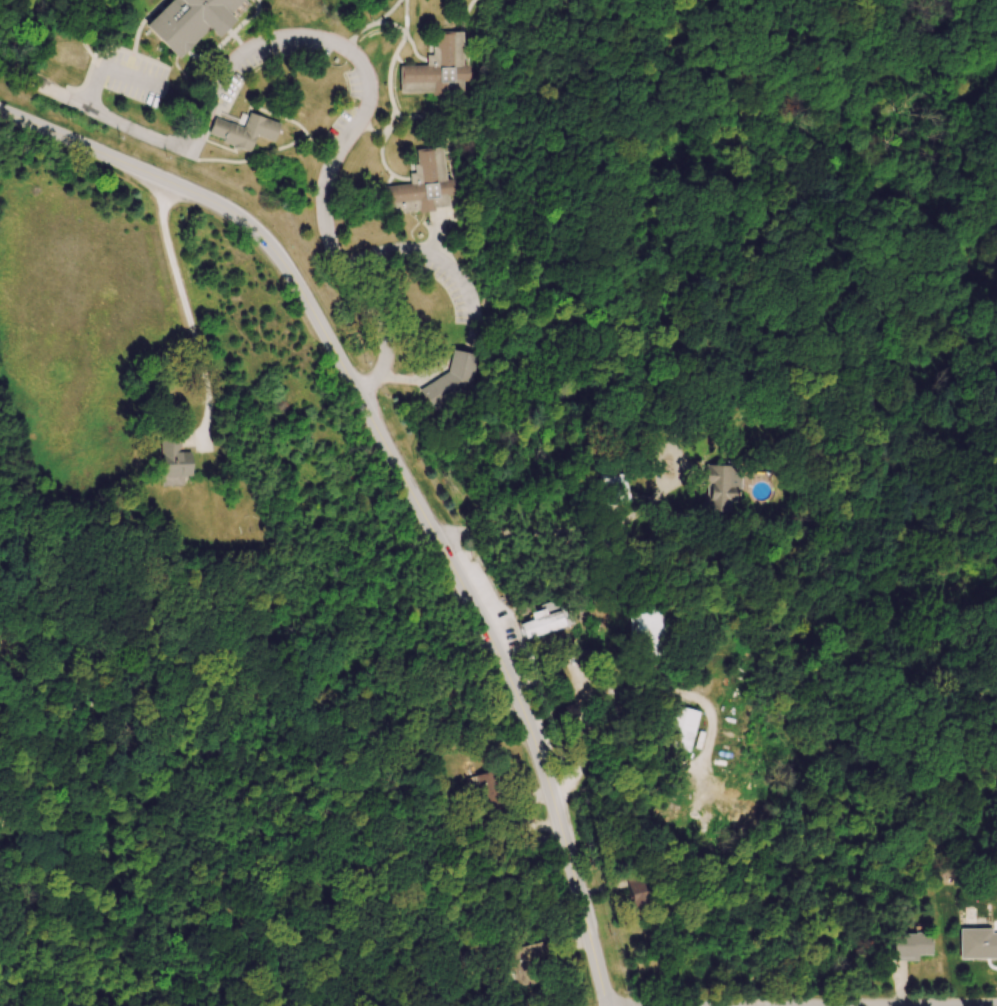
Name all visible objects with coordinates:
building: (193, 21)
road: (329, 38)
road: (109, 68)
building: (440, 69)
building: (245, 131)
building: (423, 186)
road: (423, 249)
road: (186, 311)
building: (457, 381)
building: (175, 456)
road: (401, 476)
building: (614, 489)
building: (723, 489)
road: (570, 527)
building: (587, 611)
building: (549, 621)
building: (649, 630)
building: (681, 730)
road: (248, 766)
building: (492, 796)
road: (738, 833)
building: (639, 892)
building: (979, 945)
building: (913, 947)
building: (529, 974)

